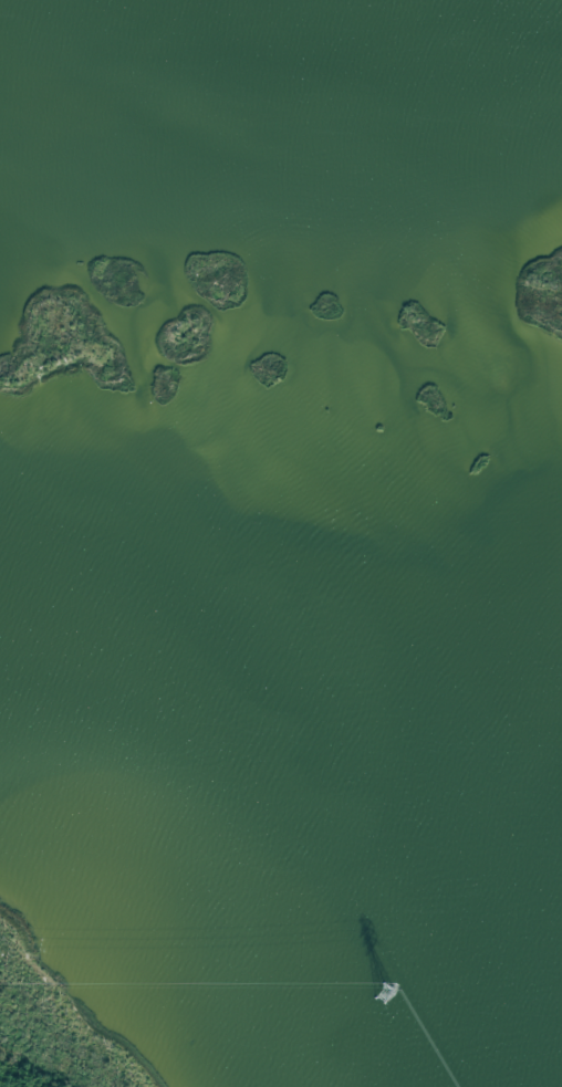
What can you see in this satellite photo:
power tower: (389, 986)

